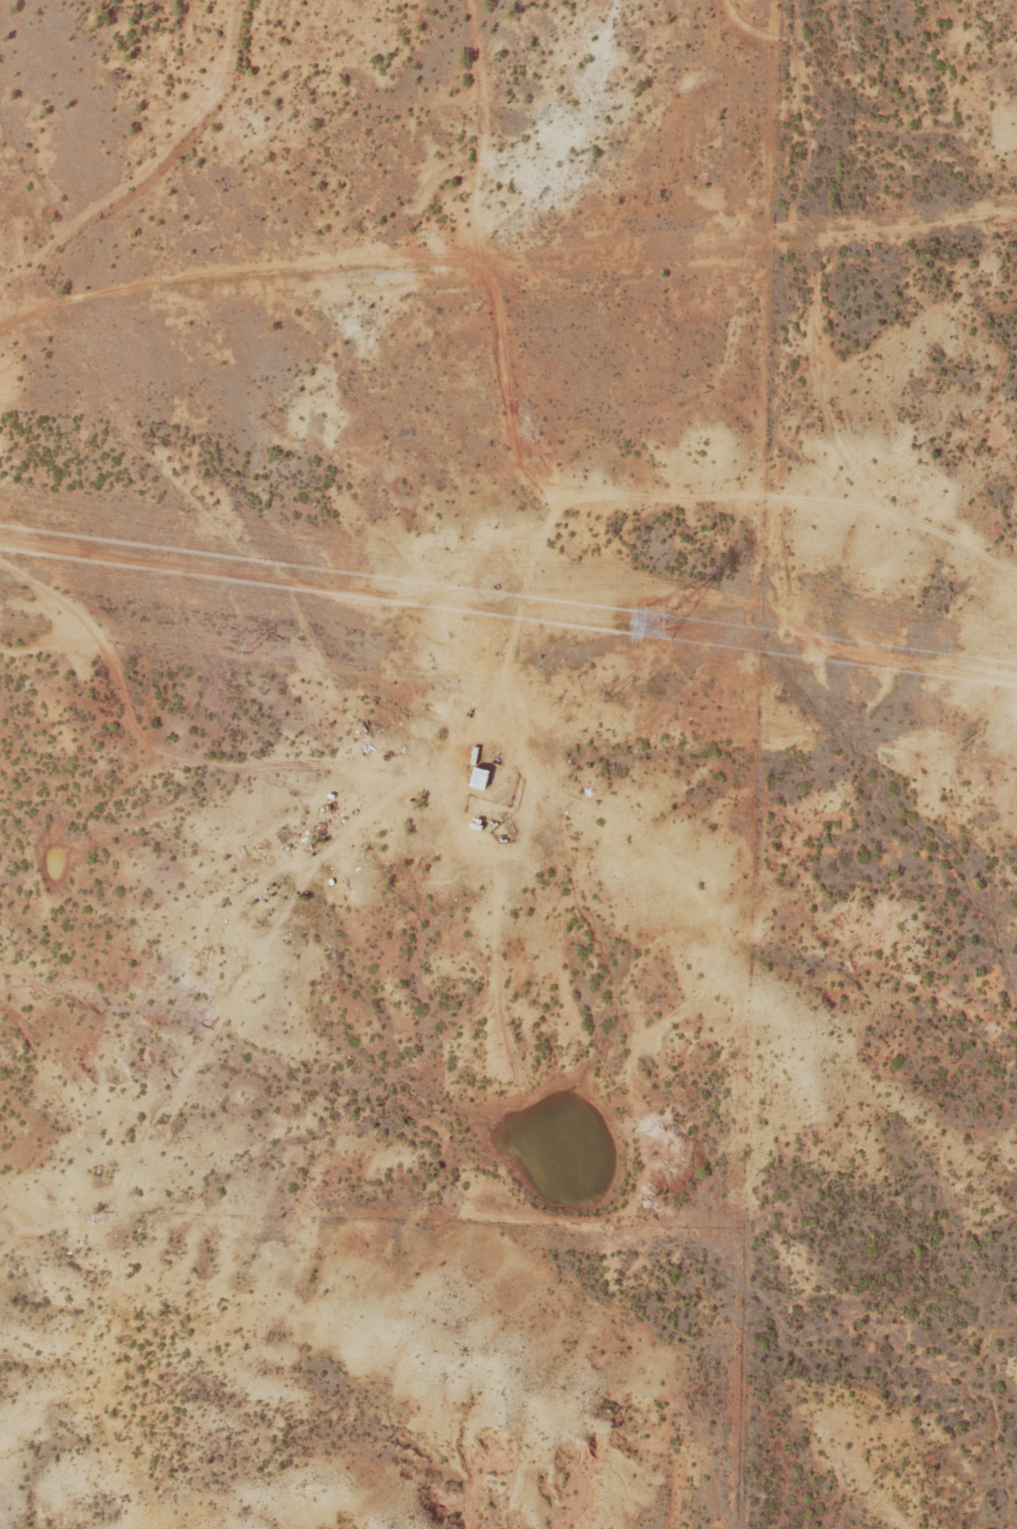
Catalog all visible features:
road: (792, 332)
road: (488, 608)
power tower: (657, 620)
power tower: (250, 646)
power tower: (607, 694)
power tower: (963, 745)
building: (478, 777)

